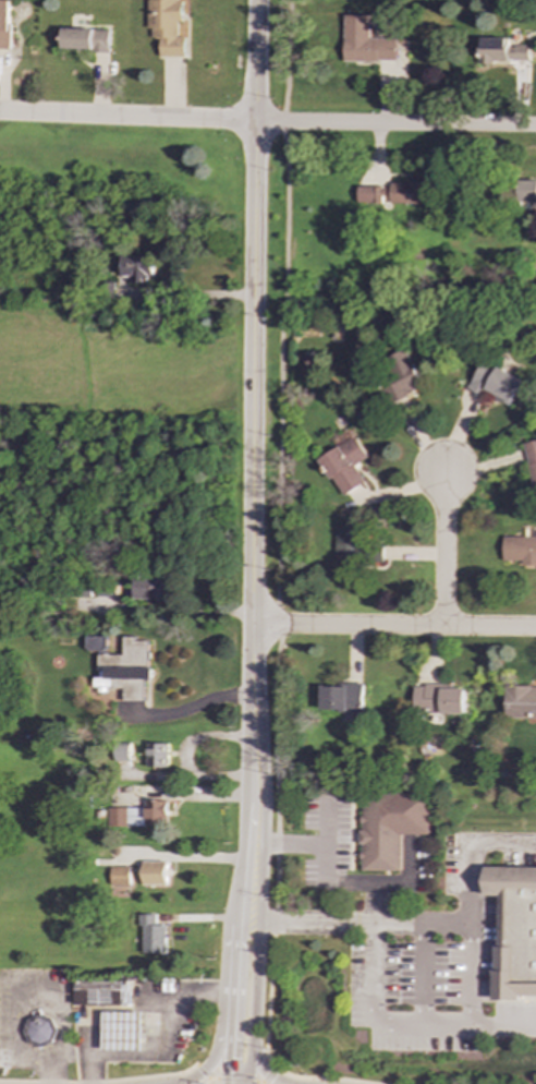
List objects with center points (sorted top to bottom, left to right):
building: (4, 25)
building: (168, 26)
building: (87, 40)
building: (365, 43)
building: (502, 51)
road: (287, 56)
road: (282, 121)
road: (267, 123)
building: (526, 191)
building: (407, 192)
building: (371, 194)
building: (138, 269)
road: (253, 312)
road: (280, 368)
building: (400, 373)
building: (495, 382)
building: (531, 459)
building: (345, 463)
building: (346, 543)
building: (520, 549)
road: (444, 551)
building: (150, 588)
road: (182, 610)
road: (276, 621)
road: (393, 626)
building: (95, 643)
building: (125, 669)
building: (340, 697)
building: (438, 699)
building: (520, 701)
road: (253, 714)
road: (275, 734)
building: (121, 752)
building: (157, 755)
building: (139, 815)
building: (389, 826)
road: (253, 842)
road: (277, 844)
road: (247, 852)
road: (187, 858)
road: (325, 871)
building: (155, 874)
building: (120, 881)
road: (277, 881)
road: (273, 920)
road: (446, 920)
building: (513, 930)
building: (153, 935)
road: (257, 943)
road: (232, 991)
building: (102, 992)
road: (221, 999)
road: (267, 1001)
gas station: (139, 1021)
building: (41, 1032)
building: (123, 1033)
road: (200, 1071)
road: (265, 1071)
road: (266, 1074)
road: (321, 1077)
road: (206, 1081)
road: (233, 1081)
road: (98, 1083)
road: (259, 1083)

